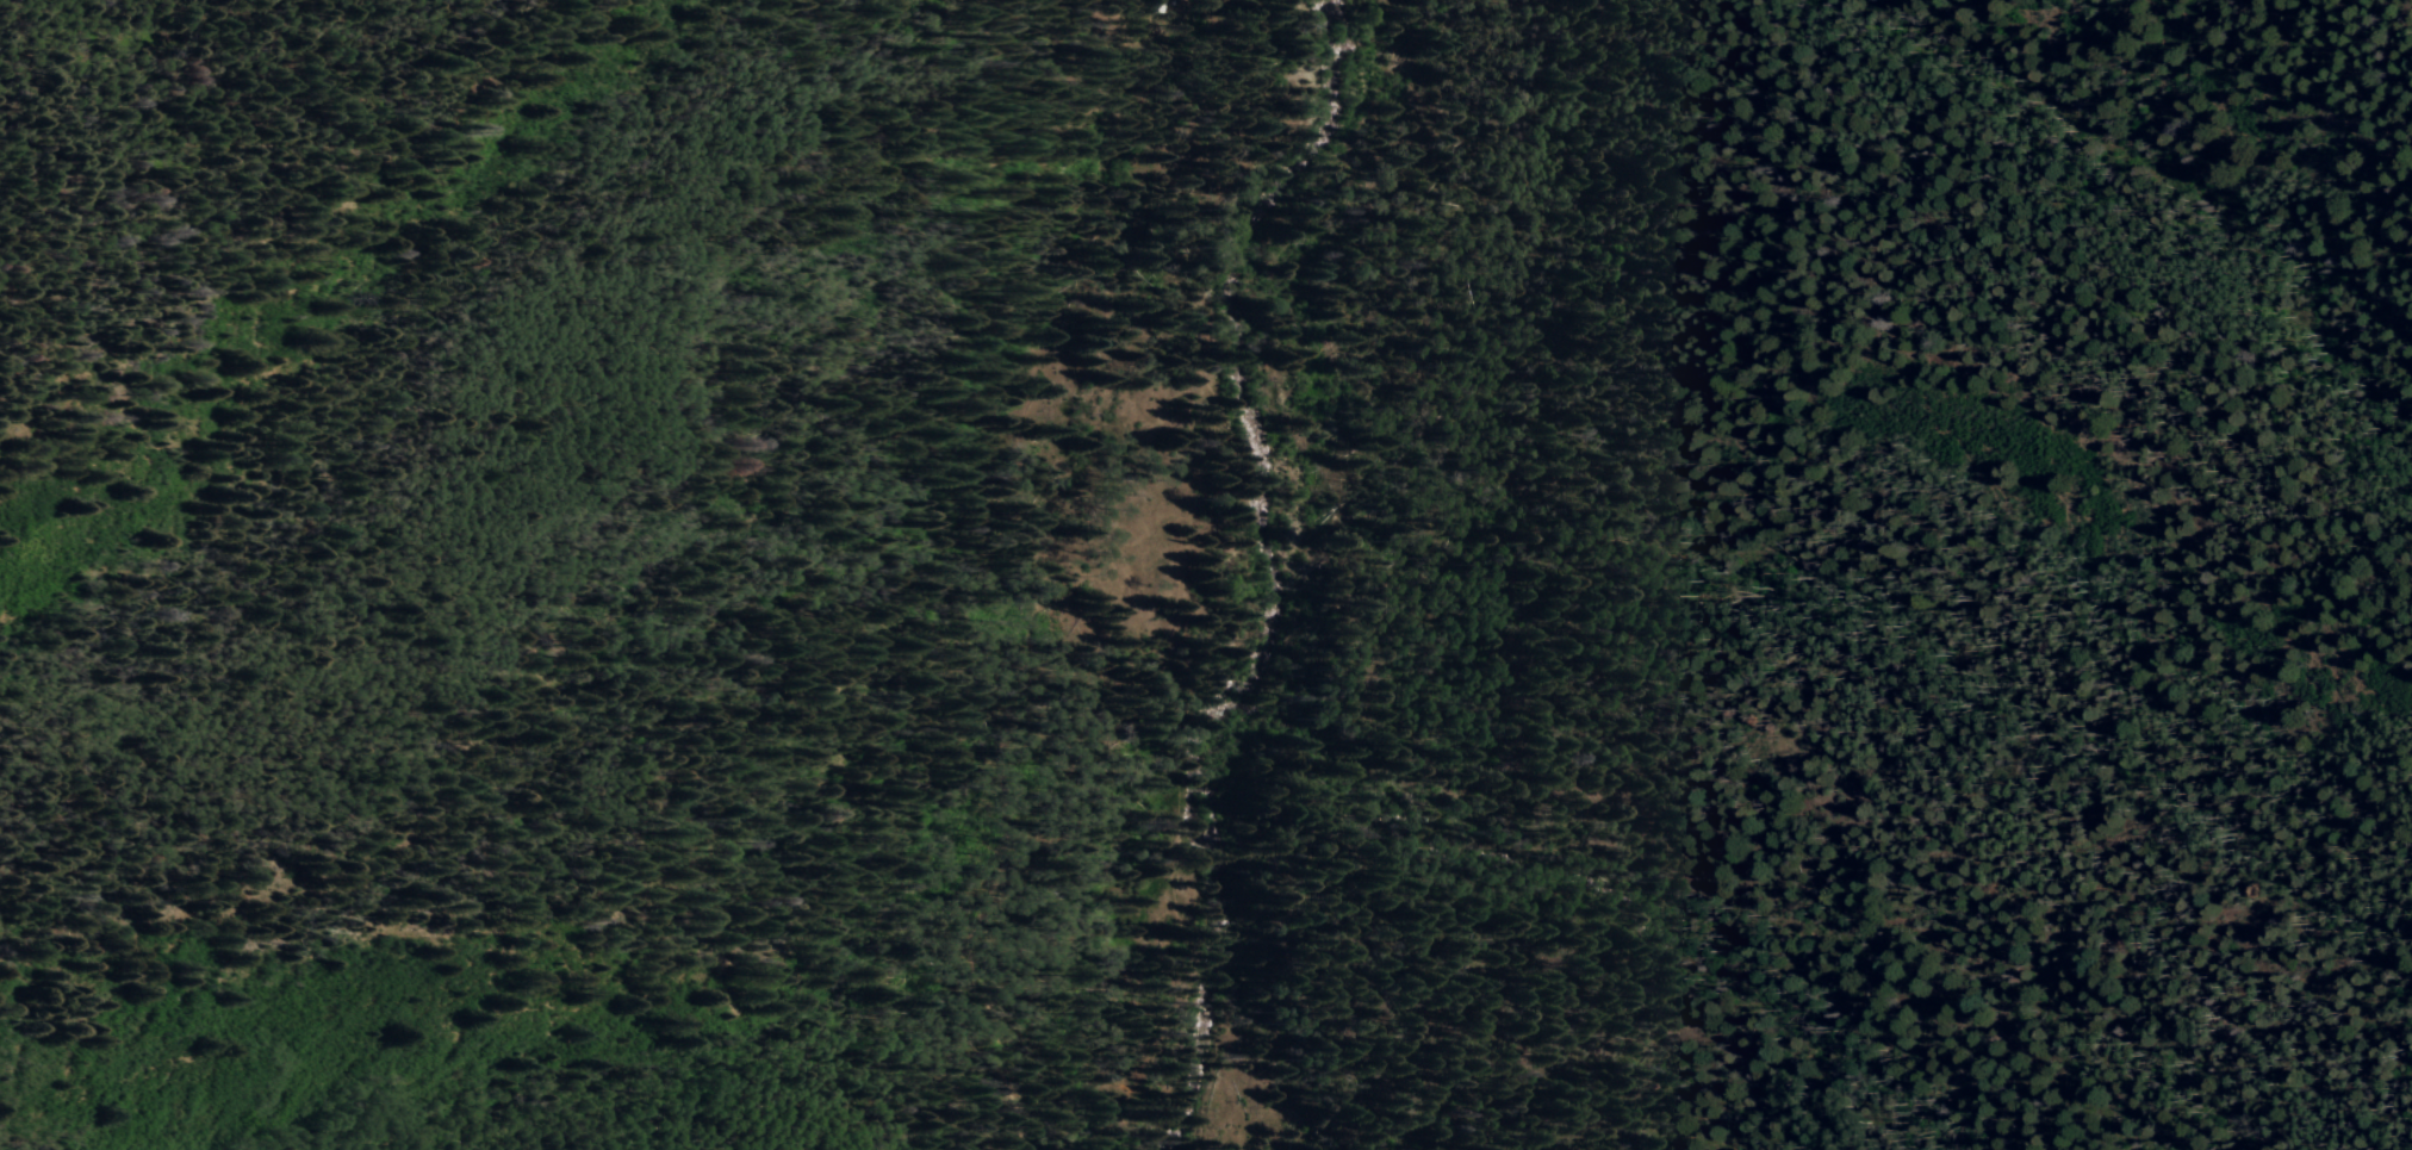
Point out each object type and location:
road: (1124, 31)
road: (1017, 559)
river: (1279, 561)
road: (1444, 782)
road: (1180, 801)

